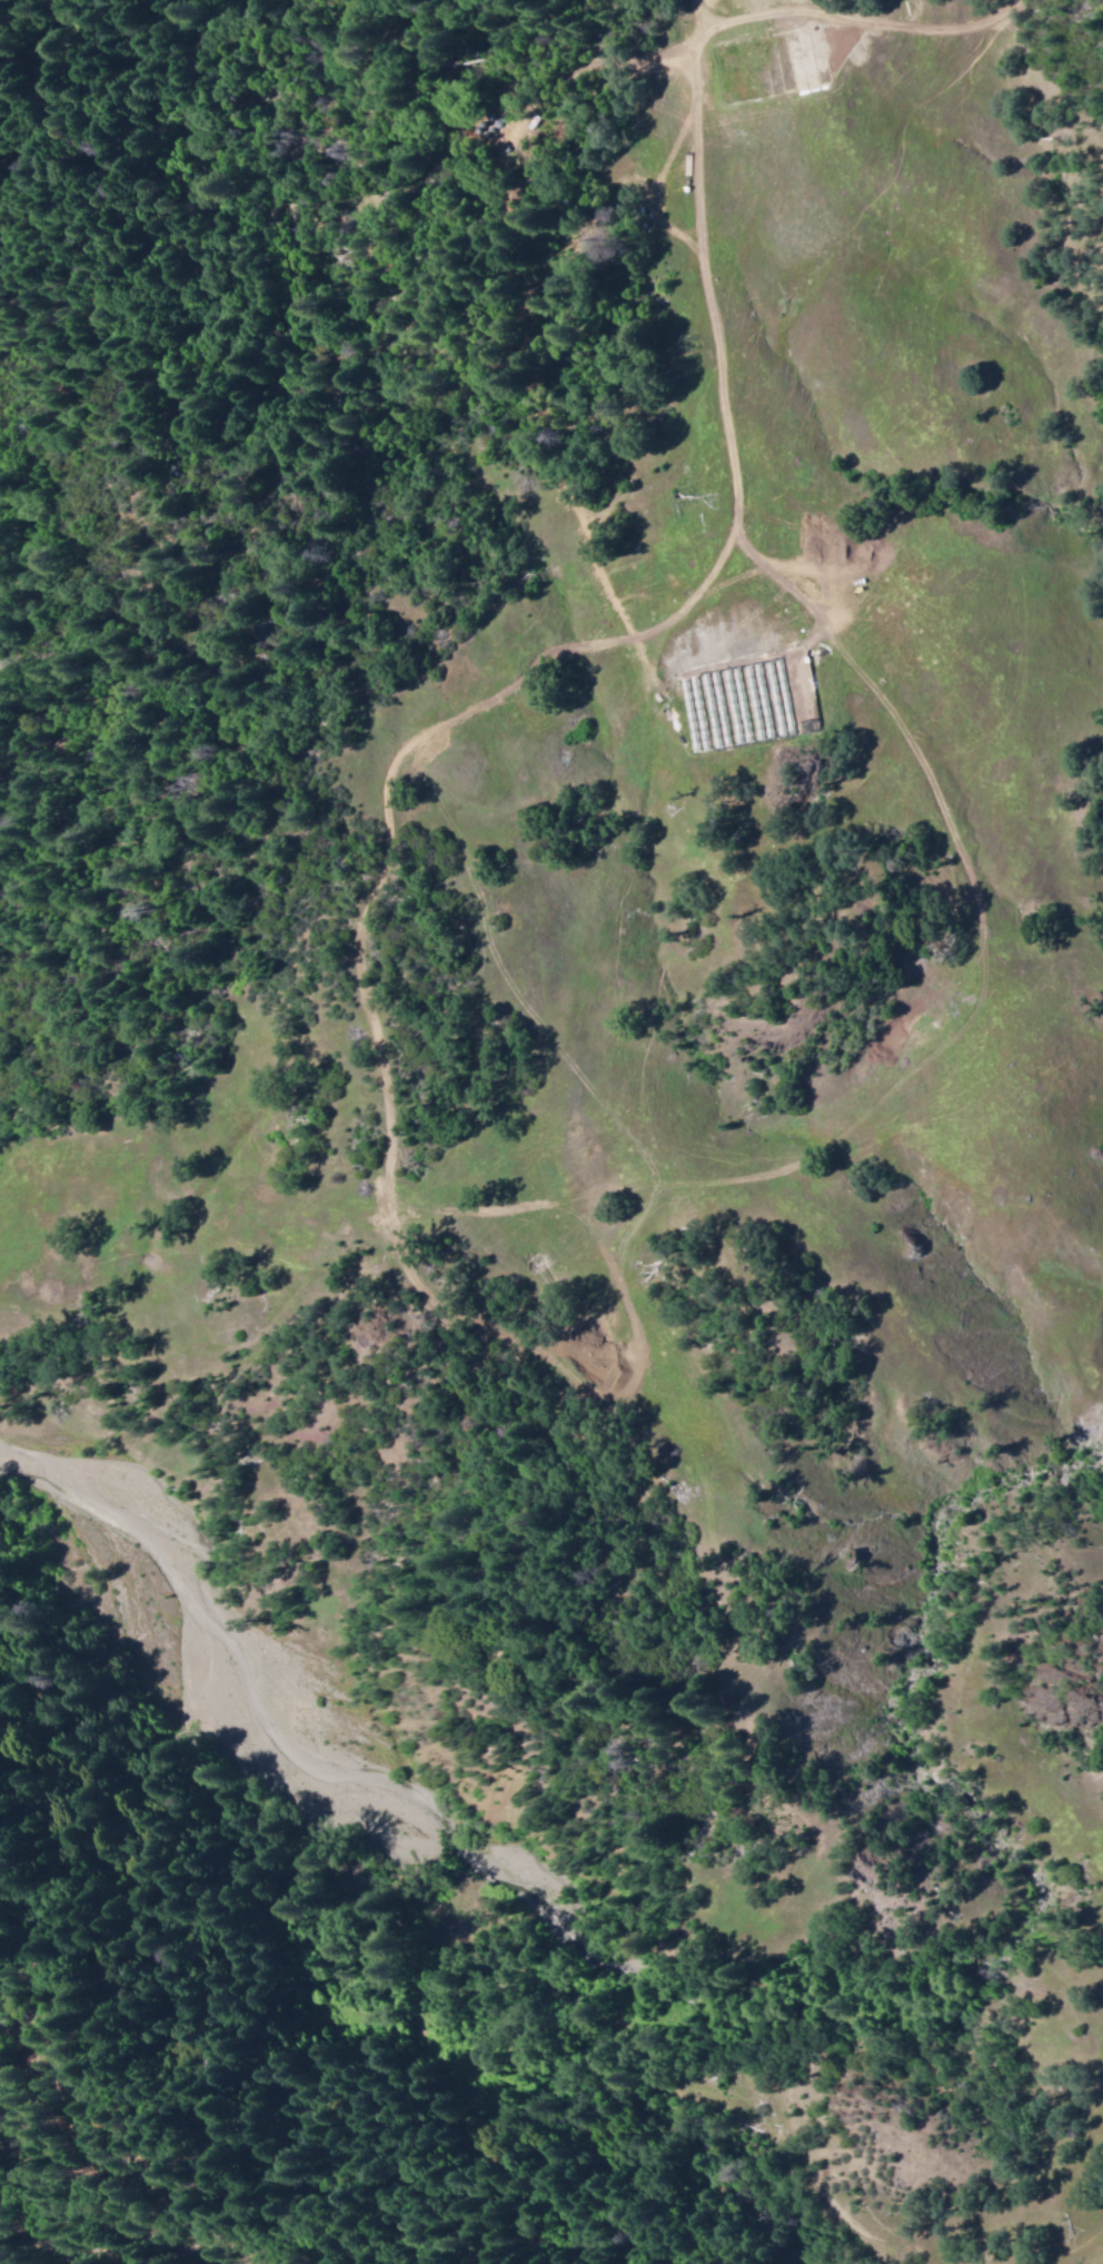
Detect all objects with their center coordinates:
road: (891, 819)
road: (115, 2157)

